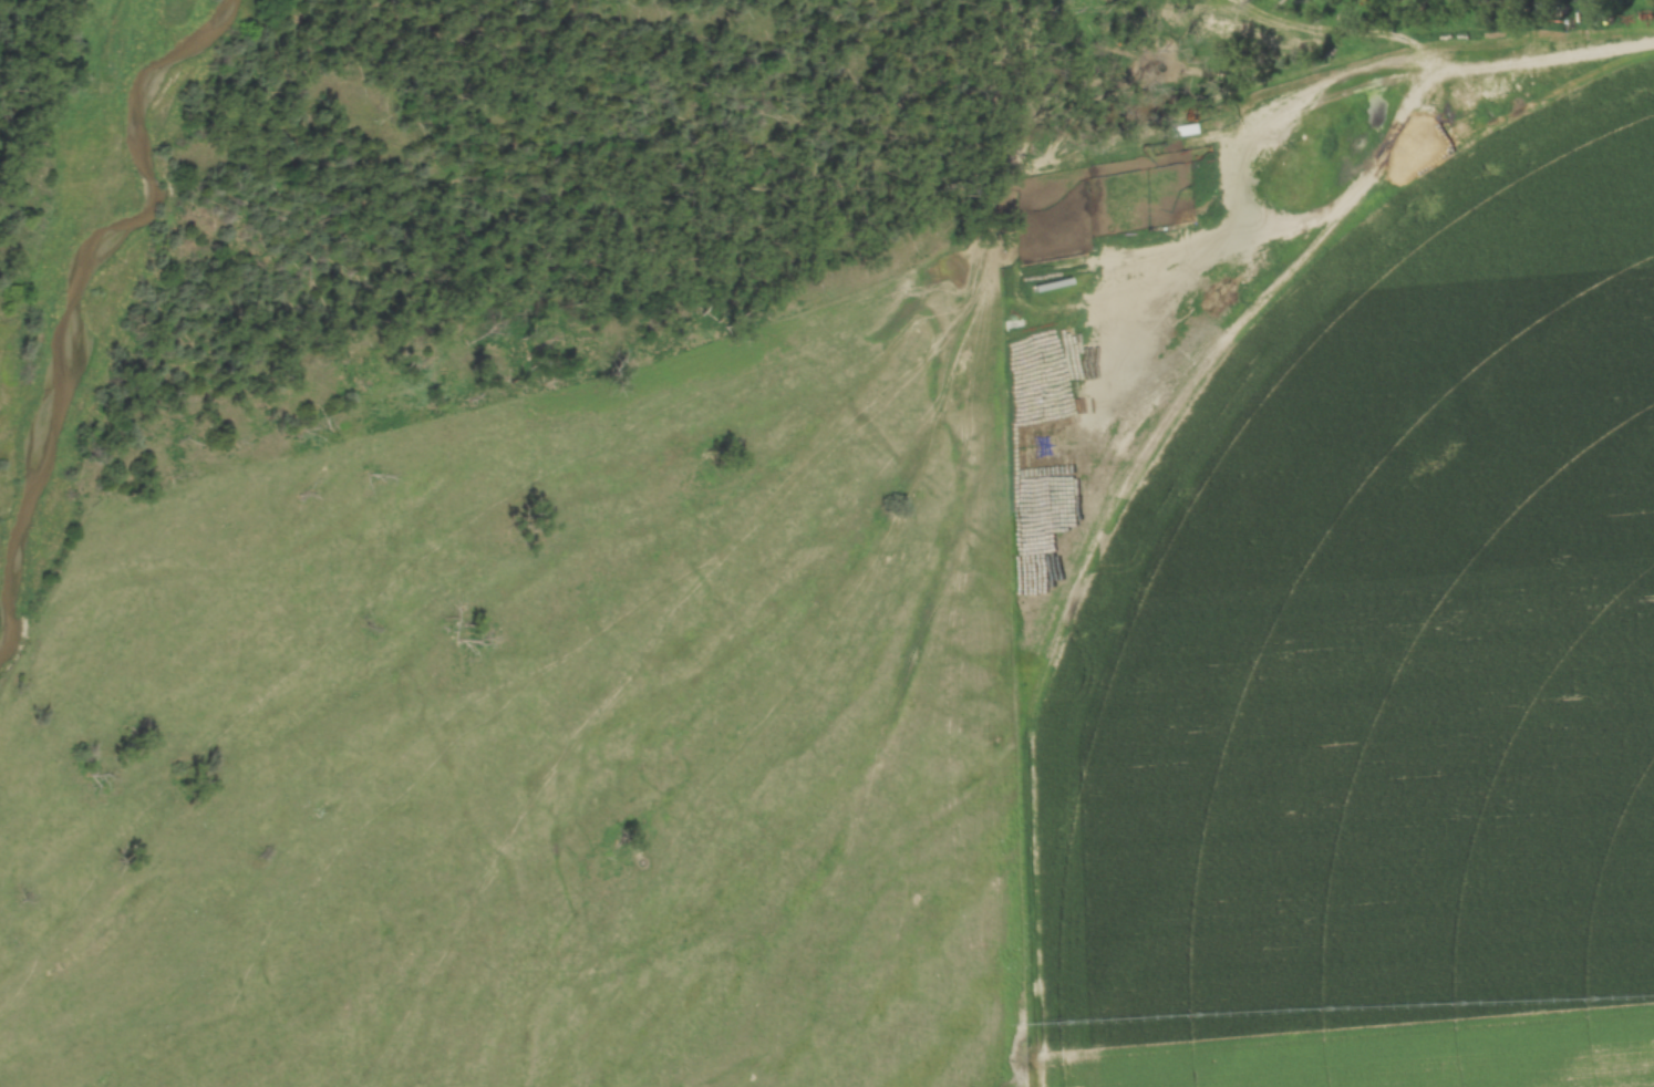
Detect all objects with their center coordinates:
river: (77, 278)

